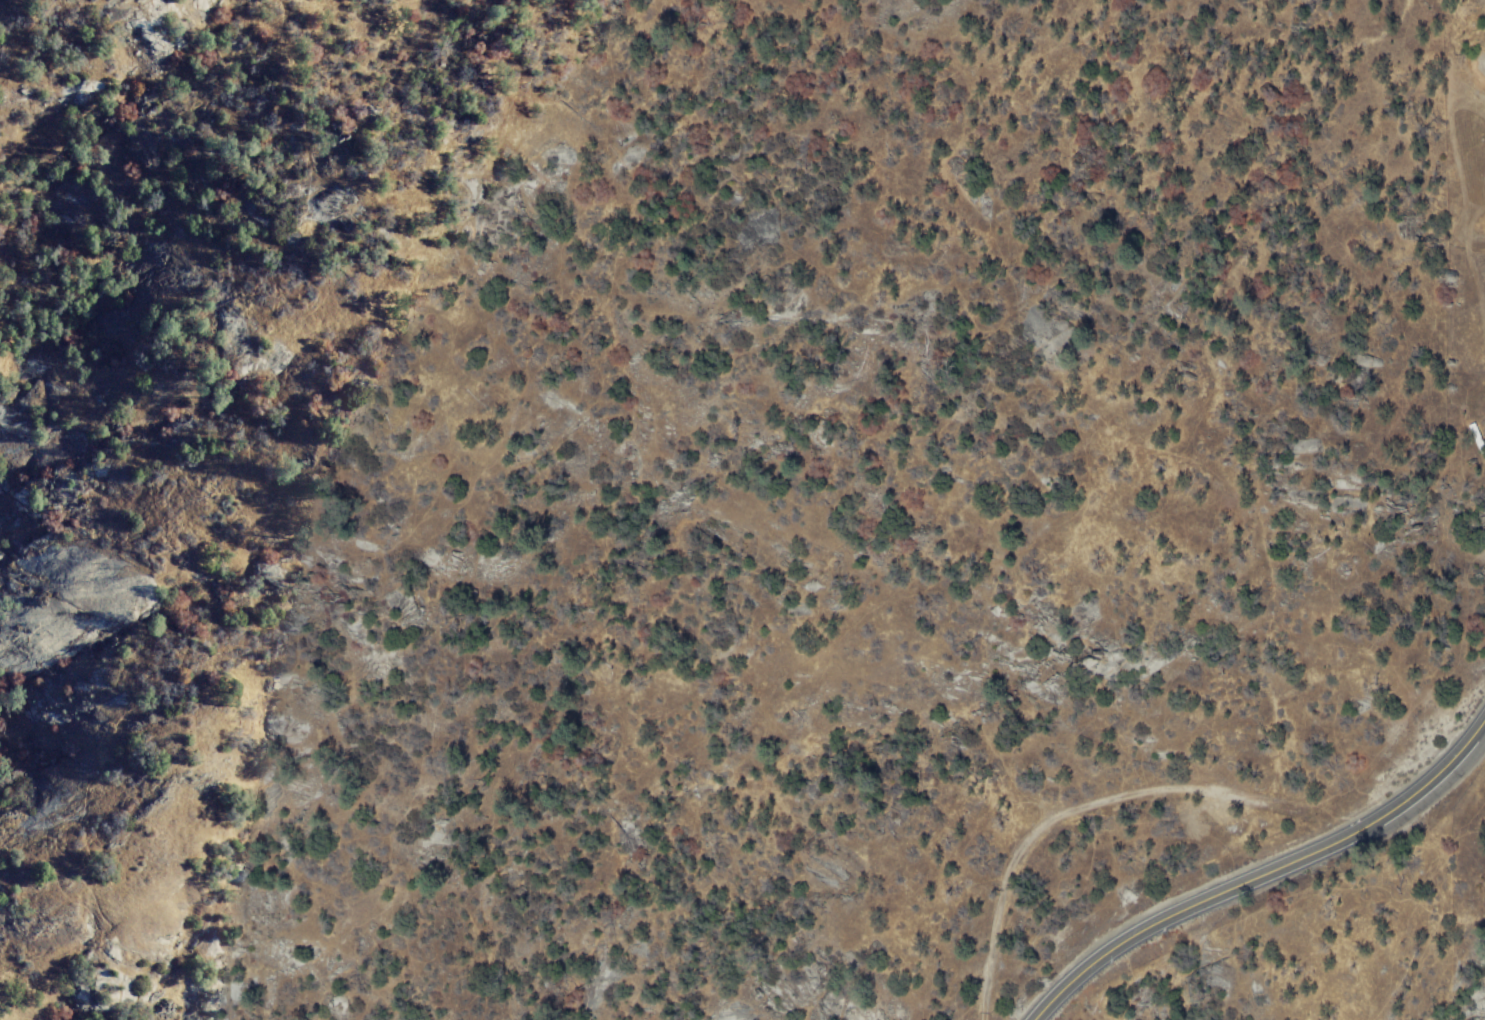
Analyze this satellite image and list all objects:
road: (1263, 876)

